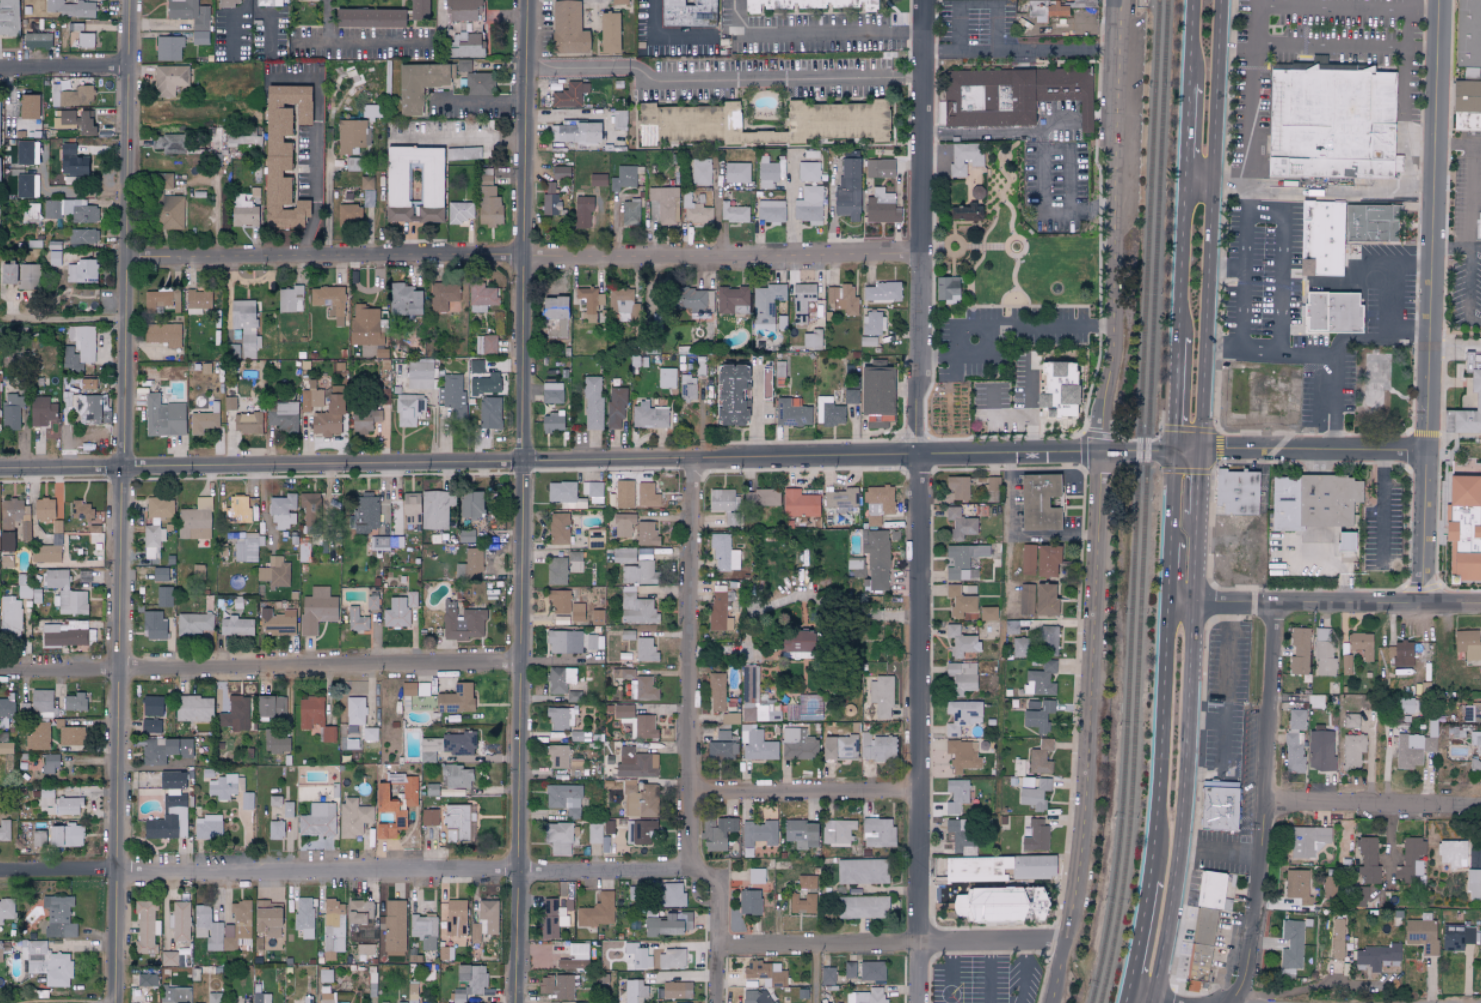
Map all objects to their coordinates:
building: (228, 2)
building: (268, 2)
building: (617, 2)
building: (806, 4)
road: (977, 4)
building: (69, 8)
building: (1053, 8)
road: (1331, 9)
building: (418, 10)
building: (461, 10)
road: (1423, 12)
building: (686, 13)
building: (8, 17)
building: (191, 17)
building: (368, 17)
road: (270, 24)
road: (232, 25)
road: (1071, 27)
building: (566, 28)
building: (608, 33)
building: (1468, 33)
road: (809, 35)
road: (663, 38)
building: (37, 40)
building: (84, 40)
road: (1191, 42)
road: (310, 43)
road: (358, 43)
building: (464, 44)
road: (1236, 45)
building: (168, 48)
road: (1330, 48)
road: (1018, 50)
road: (1422, 51)
building: (464, 65)
road: (570, 69)
road: (64, 70)
road: (902, 78)
road: (748, 79)
building: (169, 80)
building: (419, 84)
building: (479, 84)
building: (569, 95)
building: (1011, 95)
building: (72, 96)
road: (1405, 96)
building: (1466, 96)
road: (479, 100)
building: (27, 106)
building: (64, 119)
road: (1056, 120)
building: (1466, 121)
building: (815, 122)
building: (85, 123)
building: (678, 123)
building: (1330, 123)
building: (576, 132)
building: (351, 135)
road: (1187, 136)
road: (458, 141)
building: (169, 143)
road: (317, 144)
building: (24, 152)
building: (281, 154)
building: (965, 157)
building: (71, 161)
building: (879, 168)
building: (560, 171)
building: (701, 171)
building: (808, 171)
road: (1041, 171)
building: (737, 172)
building: (767, 173)
building: (623, 177)
road: (1472, 177)
building: (596, 179)
building: (162, 181)
building: (413, 184)
building: (24, 185)
building: (549, 188)
road: (1199, 188)
building: (847, 189)
road: (60, 192)
road: (1323, 192)
building: (487, 200)
building: (549, 204)
building: (808, 204)
building: (663, 205)
building: (881, 207)
road: (1092, 207)
building: (70, 210)
building: (695, 211)
building: (770, 211)
building: (31, 212)
building: (169, 212)
building: (243, 212)
building: (460, 212)
building: (582, 212)
building: (629, 212)
building: (733, 212)
building: (964, 212)
building: (349, 213)
building: (1371, 223)
building: (1478, 225)
road: (1211, 227)
building: (83, 236)
building: (1320, 238)
road: (1451, 248)
road: (1475, 250)
road: (521, 256)
building: (54, 258)
road: (1181, 263)
road: (1282, 263)
road: (1227, 269)
building: (82, 271)
road: (1244, 273)
building: (7, 274)
road: (1387, 274)
building: (27, 277)
building: (946, 289)
building: (881, 292)
road: (1468, 292)
building: (442, 296)
building: (481, 297)
building: (843, 298)
building: (290, 299)
building: (403, 299)
building: (730, 299)
building: (162, 300)
building: (692, 300)
building: (197, 301)
building: (329, 301)
building: (803, 302)
building: (589, 303)
building: (621, 303)
building: (766, 303)
road: (1431, 303)
building: (553, 308)
building: (1330, 312)
road: (68, 319)
building: (872, 323)
road: (1005, 325)
building: (246, 326)
building: (365, 326)
building: (163, 334)
building: (812, 340)
building: (867, 341)
building: (485, 345)
building: (79, 349)
road: (1223, 350)
building: (233, 351)
road: (969, 356)
building: (475, 366)
park: (1378, 372)
building: (419, 374)
building: (666, 377)
building: (485, 384)
building: (1055, 385)
building: (688, 387)
building: (551, 393)
building: (876, 394)
building: (730, 395)
building: (850, 396)
building: (454, 397)
road: (1175, 397)
building: (310, 398)
building: (1477, 401)
road: (1337, 403)
building: (592, 404)
building: (86, 406)
road: (1029, 406)
building: (615, 407)
building: (408, 409)
building: (41, 411)
building: (11, 412)
building: (829, 412)
building: (489, 413)
road: (755, 413)
building: (791, 413)
building: (282, 416)
building: (328, 416)
building: (648, 416)
building: (163, 417)
building: (364, 420)
road: (993, 420)
building: (1447, 421)
building: (202, 422)
building: (552, 422)
building: (246, 423)
traffic signals: (1201, 455)
traffic signals: (1173, 456)
road: (714, 461)
road: (1052, 471)
road: (1199, 486)
building: (957, 487)
building: (990, 489)
building: (592, 491)
building: (561, 492)
building: (1236, 492)
building: (621, 495)
building: (647, 495)
building: (761, 498)
building: (841, 499)
building: (722, 500)
road: (1171, 500)
road: (123, 501)
road: (523, 501)
road: (915, 501)
road: (1099, 502)
railway: (1136, 502)
railway: (1144, 502)
building: (1312, 502)
building: (334, 503)
building: (1038, 503)
building: (800, 504)
building: (877, 504)
building: (471, 505)
building: (312, 506)
building: (159, 508)
building: (410, 508)
building: (43, 510)
building: (238, 510)
building: (434, 510)
road: (1381, 510)
building: (80, 511)
building: (283, 511)
building: (365, 513)
building: (15, 517)
building: (731, 519)
building: (195, 520)
building: (959, 524)
building: (623, 525)
building: (1462, 528)
building: (558, 529)
building: (646, 534)
road: (1014, 534)
building: (466, 536)
building: (153, 539)
building: (5, 542)
building: (1344, 542)
building: (383, 543)
building: (248, 547)
building: (48, 551)
building: (724, 553)
building: (624, 555)
building: (876, 558)
building: (1039, 560)
building: (6, 561)
building: (575, 561)
building: (963, 561)
road: (1324, 564)
building: (470, 565)
building: (639, 569)
building: (856, 570)
building: (556, 571)
building: (275, 572)
building: (159, 574)
road: (1168, 575)
building: (28, 593)
building: (65, 593)
building: (163, 596)
building: (411, 599)
road: (785, 599)
building: (1026, 599)
building: (1045, 600)
building: (371, 602)
building: (558, 602)
building: (959, 602)
road: (1323, 607)
building: (317, 609)
building: (637, 609)
building: (576, 612)
building: (396, 613)
building: (718, 613)
building: (988, 614)
building: (10, 617)
building: (597, 617)
building: (356, 620)
building: (561, 620)
building: (277, 622)
building: (194, 623)
building: (462, 623)
building: (153, 626)
building: (236, 626)
building: (63, 635)
building: (627, 635)
building: (1048, 641)
building: (563, 642)
building: (591, 642)
building: (960, 642)
building: (795, 644)
building: (1361, 644)
building: (1467, 644)
building: (1020, 648)
building: (645, 650)
building: (1299, 651)
building: (1323, 653)
building: (1401, 654)
road: (686, 665)
building: (1345, 665)
road: (260, 669)
building: (622, 674)
building: (961, 677)
building: (559, 680)
building: (1040, 680)
building: (408, 689)
building: (642, 689)
building: (716, 692)
building: (749, 694)
parking lot: (1224, 696)
building: (880, 697)
building: (41, 700)
building: (455, 701)
building: (74, 702)
building: (151, 706)
building: (1407, 706)
building: (270, 707)
building: (6, 708)
building: (809, 708)
building: (193, 709)
road: (1223, 709)
building: (354, 711)
building: (623, 711)
building: (310, 712)
building: (1472, 712)
building: (235, 714)
building: (962, 715)
building: (1038, 717)
building: (559, 719)
building: (1296, 719)
building: (1350, 720)
road: (1205, 721)
building: (150, 726)
building: (645, 726)
building: (327, 734)
building: (369, 734)
building: (38, 735)
building: (723, 735)
building: (70, 736)
building: (1476, 741)
building: (276, 742)
building: (5, 744)
building: (457, 744)
building: (757, 744)
road: (1160, 744)
building: (798, 745)
building: (839, 747)
building: (877, 747)
building: (427, 749)
building: (164, 750)
building: (1320, 750)
building: (721, 751)
building: (1352, 751)
building: (1409, 751)
building: (1293, 754)
building: (557, 756)
building: (962, 756)
building: (1040, 757)
road: (1184, 761)
building: (49, 764)
building: (635, 764)
building: (575, 767)
building: (455, 776)
building: (172, 780)
building: (240, 785)
building: (222, 787)
building: (431, 789)
road: (800, 791)
building: (409, 792)
building: (1034, 792)
building: (955, 795)
building: (564, 799)
building: (640, 800)
building: (246, 801)
building: (275, 801)
building: (57, 803)
road: (1374, 804)
road: (1266, 805)
building: (1217, 807)
building: (287, 809)
building: (390, 811)
building: (353, 817)
building: (429, 818)
building: (318, 820)
building: (456, 823)
building: (207, 827)
building: (160, 828)
building: (4, 829)
building: (275, 830)
building: (837, 831)
building: (640, 832)
building: (594, 833)
building: (717, 833)
building: (878, 833)
building: (799, 834)
building: (961, 834)
building: (757, 835)
building: (65, 836)
building: (1035, 836)
building: (558, 838)
building: (38, 839)
building: (1306, 840)
road: (1220, 850)
building: (1452, 852)
building: (1367, 860)
building: (1411, 860)
building: (997, 868)
road: (602, 870)
road: (259, 871)
building: (862, 871)
building: (756, 876)
building: (806, 882)
building: (1473, 883)
building: (1297, 885)
building: (1212, 890)
building: (671, 895)
building: (1359, 896)
building: (1480, 898)
building: (748, 902)
building: (802, 903)
building: (1000, 905)
building: (862, 907)
building: (6, 910)
building: (359, 911)
building: (597, 911)
building: (488, 914)
building: (58, 916)
building: (553, 916)
road: (721, 916)
building: (303, 917)
building: (454, 917)
building: (266, 918)
building: (179, 921)
building: (668, 924)
building: (333, 925)
building: (207, 927)
building: (238, 927)
building: (394, 927)
building: (424, 930)
building: (1422, 932)
building: (474, 933)
building: (1457, 936)
building: (1337, 938)
road: (1137, 942)
building: (1291, 943)
building: (1201, 944)
road: (891, 945)
building: (556, 947)
building: (364, 948)
building: (0, 951)
building: (638, 955)
building: (1376, 955)
building: (575, 956)
building: (169, 958)
building: (671, 959)
building: (47, 963)
building: (849, 969)
building: (872, 970)
building: (766, 972)
road: (948, 974)
road: (988, 974)
road: (1021, 974)
road: (816, 975)
building: (827, 975)
building: (472, 977)
building: (147, 979)
building: (556, 985)
building: (676, 989)
building: (635, 991)
building: (412, 993)
building: (174, 994)
building: (755, 996)
building: (866, 996)
building: (214, 997)
building: (261, 997)
building: (326, 998)
building: (307, 999)
building: (683, 1002)

